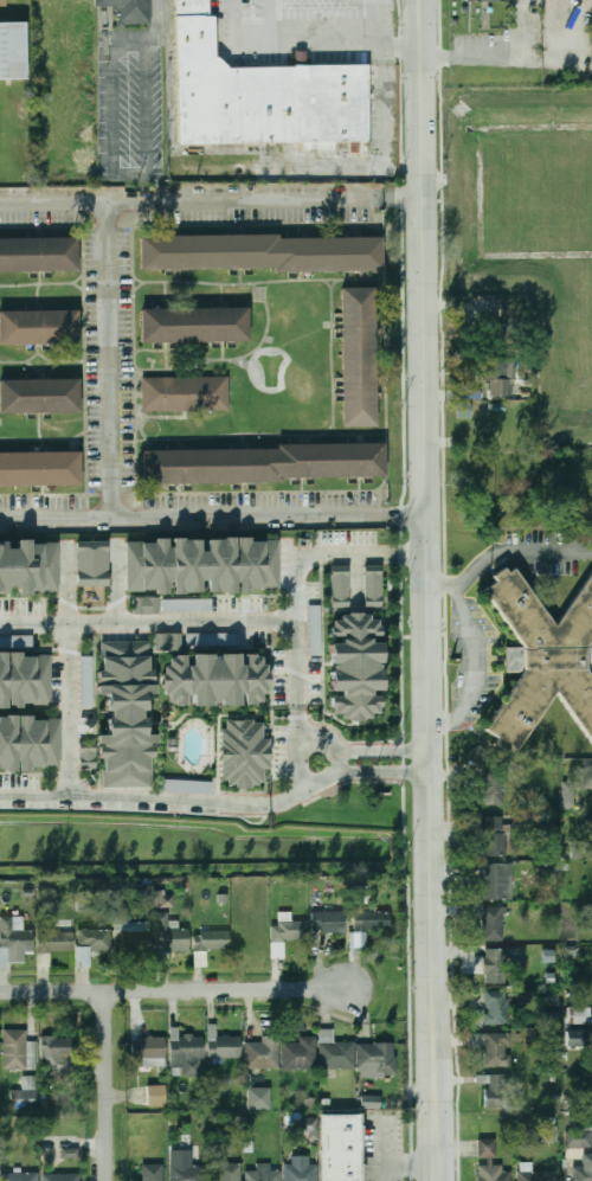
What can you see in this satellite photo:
building: (483, 0)
building: (2, 2)
building: (191, 7)
building: (130, 9)
road: (276, 21)
road: (303, 43)
building: (13, 51)
building: (260, 96)
road: (258, 162)
road: (403, 197)
road: (191, 200)
building: (260, 252)
building: (38, 253)
building: (194, 323)
building: (39, 327)
building: (356, 357)
road: (109, 359)
building: (497, 377)
building: (184, 392)
building: (39, 394)
building: (262, 463)
building: (39, 468)
road: (405, 513)
road: (192, 515)
road: (426, 543)
parking lot: (548, 550)
road: (542, 551)
road: (309, 556)
road: (411, 556)
building: (92, 563)
building: (200, 565)
building: (28, 567)
road: (474, 567)
building: (339, 585)
building: (372, 585)
road: (134, 596)
building: (187, 604)
building: (146, 605)
road: (187, 623)
building: (314, 630)
road: (245, 635)
road: (94, 637)
building: (213, 638)
building: (15, 641)
building: (167, 641)
road: (233, 647)
road: (477, 652)
parking lot: (474, 659)
building: (542, 659)
flagpole: (462, 660)
building: (354, 666)
road: (95, 676)
building: (25, 678)
building: (86, 680)
building: (215, 680)
road: (70, 711)
building: (126, 713)
road: (298, 726)
road: (274, 733)
building: (28, 743)
road: (381, 750)
building: (245, 752)
building: (88, 758)
road: (336, 760)
building: (587, 771)
road: (381, 772)
building: (186, 785)
building: (493, 787)
road: (292, 794)
building: (567, 795)
road: (135, 797)
building: (494, 836)
building: (575, 849)
building: (496, 881)
building: (372, 920)
building: (328, 922)
building: (494, 924)
building: (285, 935)
building: (133, 936)
building: (169, 938)
building: (13, 942)
building: (210, 942)
building: (54, 943)
building: (92, 946)
building: (495, 965)
road: (173, 988)
building: (497, 1008)
building: (551, 1019)
building: (575, 1036)
building: (224, 1045)
building: (149, 1047)
building: (493, 1047)
building: (59, 1048)
building: (15, 1050)
building: (335, 1052)
building: (263, 1053)
building: (187, 1054)
building: (298, 1055)
building: (377, 1058)
road: (108, 1085)
building: (25, 1092)
building: (498, 1092)
building: (156, 1096)
building: (258, 1098)
building: (309, 1127)
building: (584, 1127)
road: (435, 1132)
building: (579, 1138)
building: (340, 1147)
building: (70, 1153)
building: (230, 1172)
building: (301, 1172)
building: (153, 1173)
building: (188, 1173)
building: (264, 1173)
building: (583, 1173)
building: (20, 1176)
building: (495, 1176)
building: (538, 1176)
building: (62, 1177)

